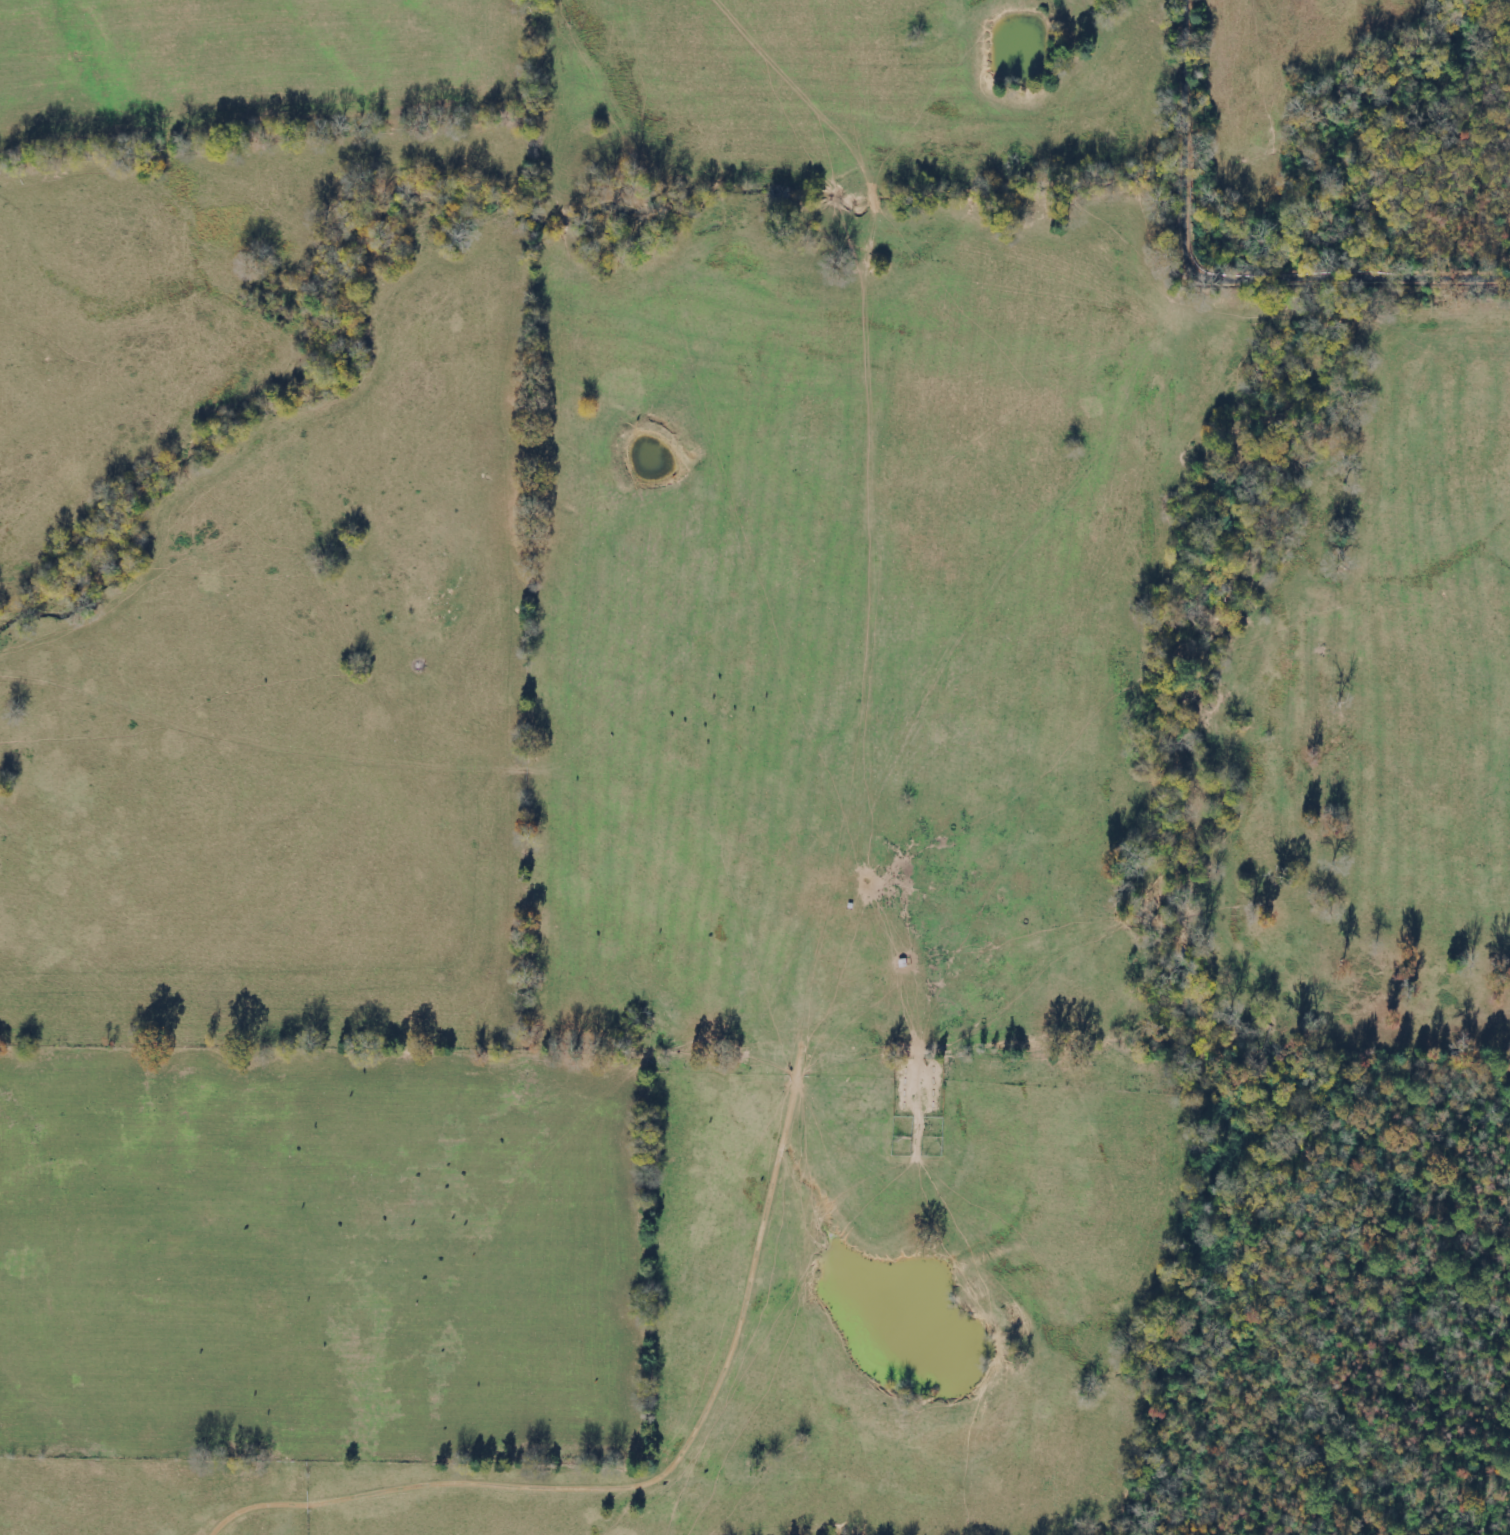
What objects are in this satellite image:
road: (1218, 275)

